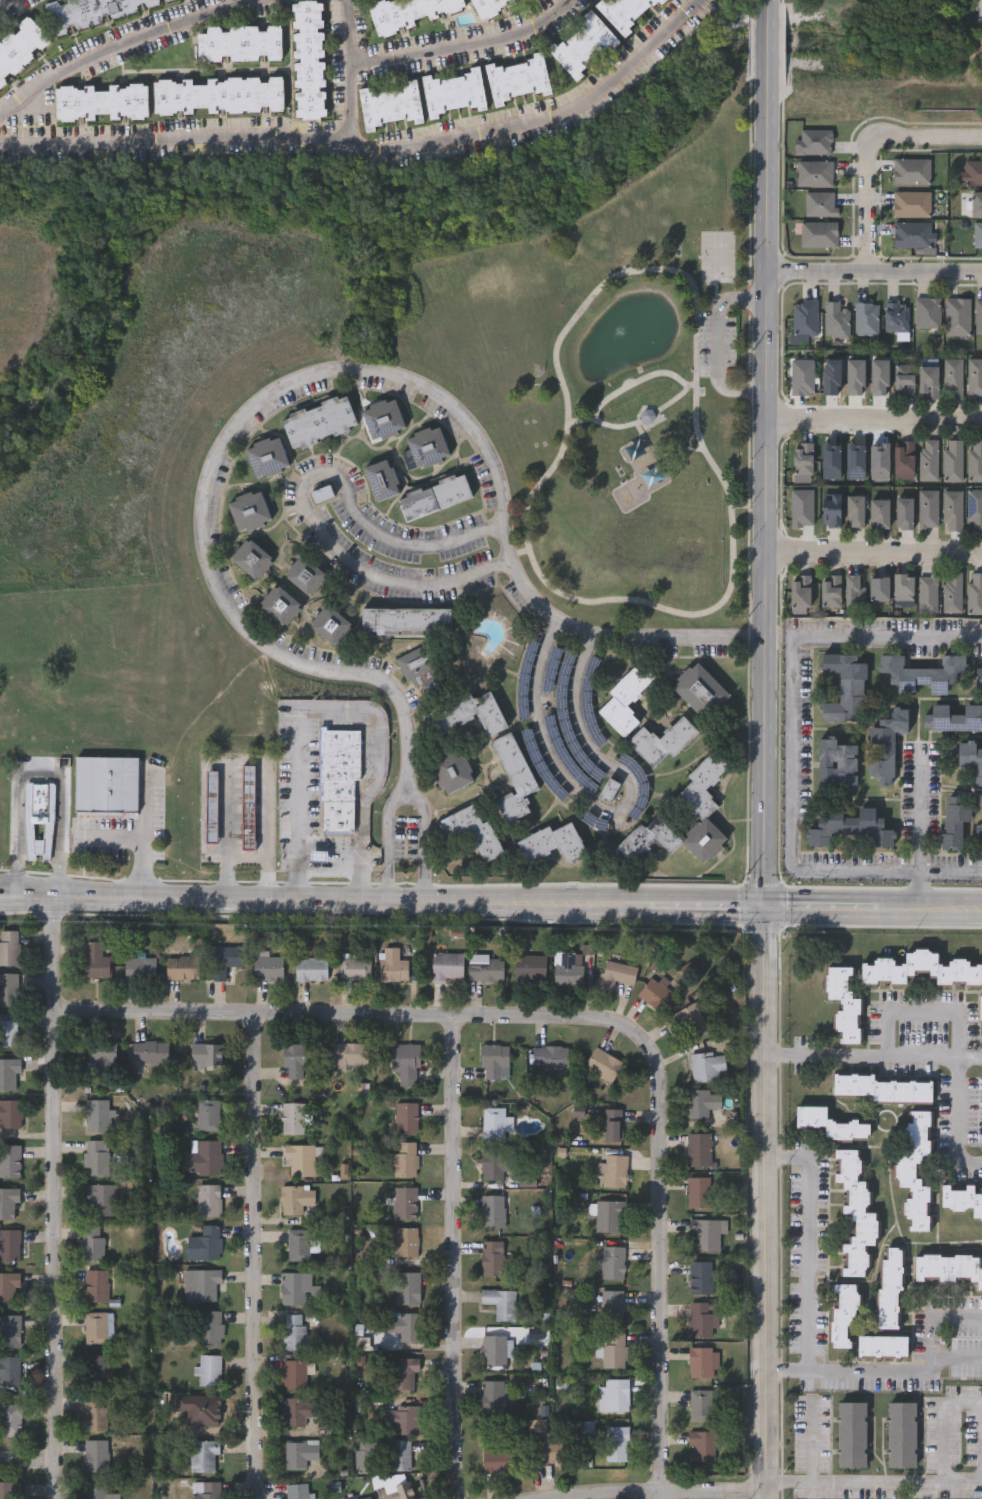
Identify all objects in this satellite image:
building: (166, 0)
road: (3, 2)
building: (490, 6)
building: (91, 11)
building: (409, 12)
building: (626, 12)
building: (239, 42)
building: (584, 44)
road: (125, 45)
road: (459, 45)
building: (20, 47)
building: (308, 58)
road: (348, 73)
building: (517, 76)
building: (454, 91)
building: (217, 94)
building: (101, 101)
building: (391, 104)
building: (812, 141)
road: (374, 147)
road: (881, 157)
building: (910, 171)
building: (813, 173)
building: (971, 173)
building: (819, 204)
building: (910, 204)
building: (976, 204)
building: (818, 233)
building: (911, 234)
building: (977, 235)
park: (717, 256)
road: (874, 283)
building: (926, 312)
building: (895, 316)
building: (956, 316)
building: (978, 316)
building: (805, 317)
building: (865, 318)
building: (835, 319)
parking lot: (719, 344)
road: (720, 344)
road: (330, 374)
building: (974, 376)
building: (902, 378)
building: (952, 378)
building: (926, 382)
road: (626, 383)
park: (616, 388)
building: (382, 417)
road: (645, 417)
building: (648, 417)
building: (317, 420)
road: (873, 430)
building: (424, 446)
road: (763, 454)
building: (265, 456)
building: (802, 458)
building: (928, 459)
building: (903, 460)
building: (953, 460)
building: (974, 460)
building: (381, 478)
building: (324, 495)
building: (433, 496)
road: (748, 507)
building: (926, 509)
building: (249, 510)
building: (951, 510)
building: (974, 510)
building: (853, 511)
building: (902, 513)
building: (877, 514)
road: (520, 550)
road: (419, 552)
road: (872, 553)
building: (251, 558)
road: (360, 573)
building: (305, 575)
building: (901, 586)
building: (878, 589)
building: (853, 590)
building: (830, 591)
building: (951, 592)
building: (926, 593)
building: (975, 593)
building: (799, 594)
road: (580, 599)
building: (279, 605)
building: (406, 619)
building: (330, 625)
road: (882, 636)
building: (421, 660)
building: (926, 673)
building: (978, 681)
building: (844, 687)
building: (700, 690)
building: (625, 699)
road: (341, 707)
building: (469, 711)
building: (953, 718)
building: (662, 740)
building: (884, 744)
road: (248, 759)
building: (970, 759)
building: (837, 762)
road: (40, 766)
building: (452, 772)
building: (513, 777)
building: (338, 781)
building: (107, 786)
building: (609, 790)
building: (212, 808)
building: (702, 808)
building: (248, 809)
road: (920, 809)
road: (603, 810)
road: (790, 815)
building: (39, 816)
building: (981, 822)
building: (955, 823)
building: (850, 828)
building: (472, 830)
road: (142, 833)
road: (108, 835)
road: (429, 843)
building: (552, 843)
road: (392, 844)
road: (247, 854)
road: (950, 869)
road: (330, 871)
road: (919, 890)
road: (490, 904)
traffic signals: (764, 909)
building: (9, 944)
building: (95, 957)
building: (223, 957)
building: (391, 962)
building: (447, 963)
building: (181, 964)
building: (530, 964)
building: (139, 965)
building: (267, 965)
building: (569, 965)
building: (310, 966)
building: (354, 966)
building: (485, 966)
building: (919, 969)
building: (618, 971)
building: (7, 986)
building: (658, 991)
building: (843, 1003)
building: (980, 1007)
road: (344, 1014)
road: (922, 1016)
building: (688, 1017)
building: (8, 1027)
building: (146, 1049)
building: (205, 1051)
building: (350, 1051)
building: (550, 1054)
building: (100, 1055)
building: (494, 1056)
building: (293, 1057)
road: (861, 1058)
road: (969, 1059)
building: (405, 1060)
building: (603, 1061)
building: (708, 1064)
building: (9, 1070)
building: (878, 1089)
building: (703, 1099)
building: (11, 1111)
building: (207, 1111)
building: (98, 1113)
building: (292, 1114)
building: (406, 1115)
building: (497, 1120)
building: (613, 1122)
building: (830, 1124)
road: (956, 1127)
building: (699, 1146)
building: (96, 1154)
building: (202, 1155)
building: (299, 1156)
building: (403, 1156)
building: (10, 1158)
building: (497, 1161)
building: (615, 1168)
building: (915, 1169)
building: (700, 1189)
building: (295, 1195)
building: (100, 1196)
building: (207, 1197)
road: (51, 1198)
building: (962, 1199)
building: (405, 1200)
building: (8, 1201)
road: (766, 1203)
building: (493, 1208)
building: (610, 1212)
building: (854, 1213)
building: (708, 1230)
building: (403, 1237)
building: (91, 1239)
building: (204, 1241)
building: (299, 1241)
building: (9, 1242)
road: (809, 1244)
building: (493, 1255)
road: (253, 1256)
road: (448, 1257)
building: (613, 1259)
road: (662, 1260)
building: (948, 1268)
building: (702, 1273)
building: (96, 1282)
building: (200, 1282)
building: (294, 1284)
building: (9, 1285)
building: (408, 1285)
building: (889, 1289)
building: (501, 1299)
building: (613, 1303)
building: (705, 1316)
building: (843, 1317)
building: (405, 1323)
building: (95, 1324)
building: (210, 1324)
building: (10, 1327)
building: (294, 1328)
road: (936, 1340)
building: (494, 1347)
building: (615, 1347)
building: (882, 1347)
building: (701, 1359)
building: (100, 1367)
building: (208, 1367)
building: (9, 1368)
building: (403, 1370)
building: (294, 1371)
road: (856, 1373)
building: (614, 1393)
building: (493, 1394)
building: (701, 1401)
building: (201, 1407)
building: (298, 1407)
building: (93, 1410)
building: (10, 1417)
building: (402, 1417)
building: (852, 1435)
building: (902, 1435)
road: (948, 1435)
building: (617, 1441)
building: (702, 1443)
building: (553, 1446)
building: (299, 1450)
building: (96, 1452)
building: (201, 1452)
building: (399, 1452)
road: (815, 1452)
building: (502, 1457)
road: (27, 1464)
building: (206, 1488)
building: (10, 1489)
building: (98, 1490)
building: (297, 1490)
building: (399, 1490)
road: (872, 1492)
building: (358, 1495)
road: (698, 1495)

